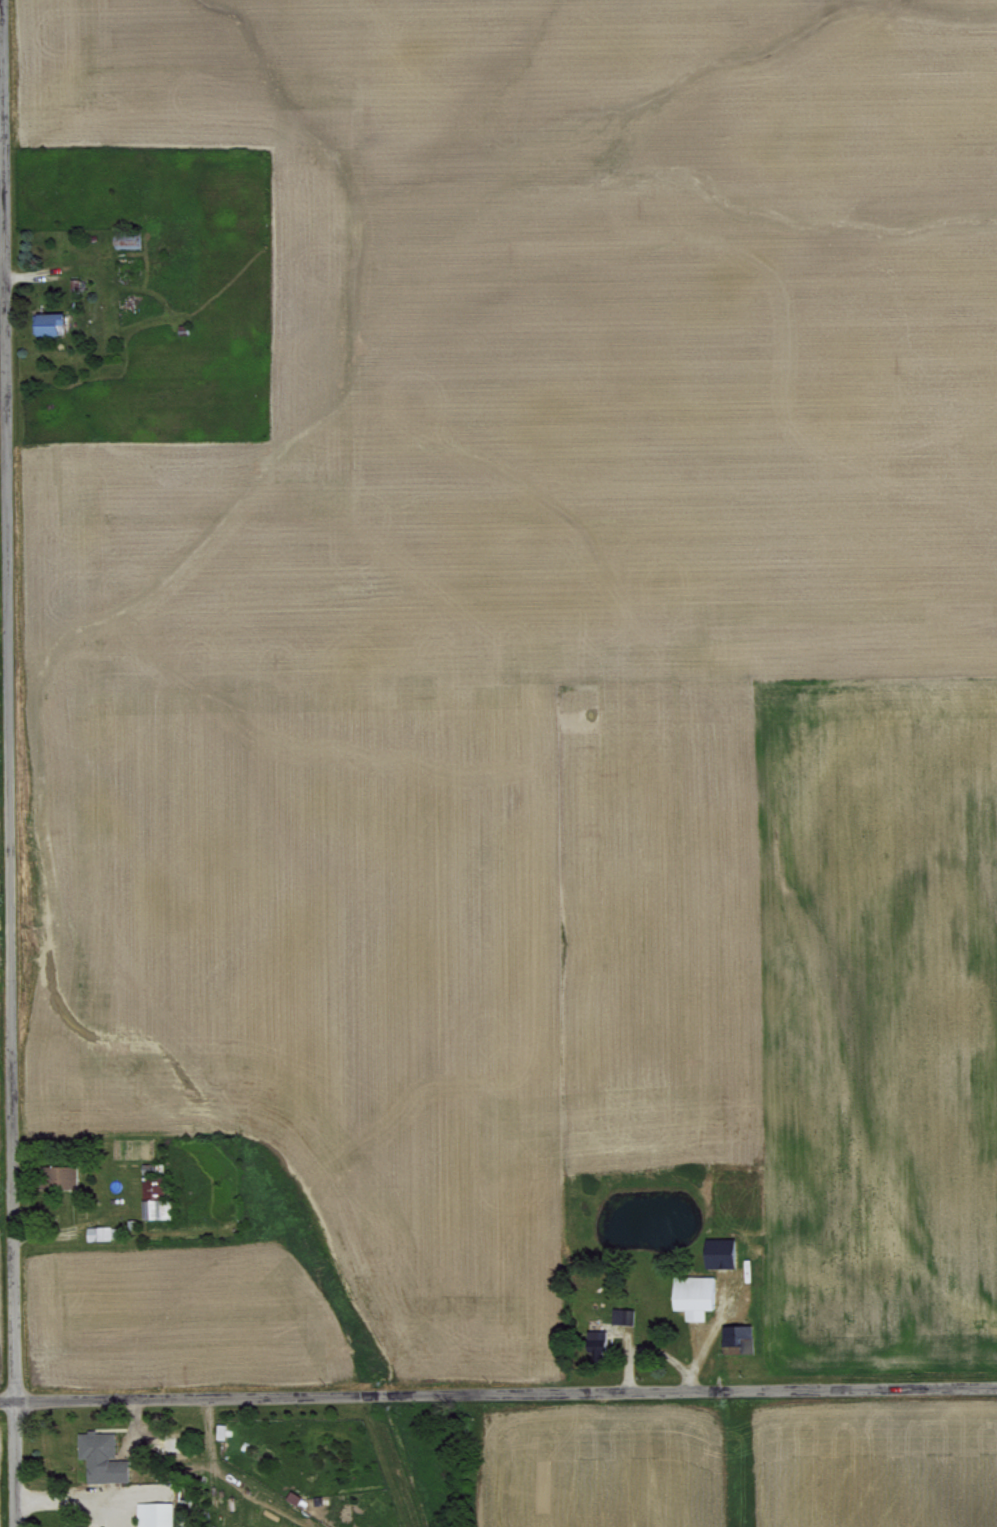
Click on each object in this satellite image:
building: (127, 239)
road: (5, 763)
building: (59, 1176)
building: (155, 1198)
building: (99, 1232)
building: (720, 1259)
building: (694, 1295)
building: (622, 1314)
road: (700, 1334)
building: (740, 1340)
building: (597, 1343)
road: (498, 1390)
building: (101, 1456)
building: (293, 1496)
road: (72, 1506)
building: (154, 1514)
building: (77, 1525)

